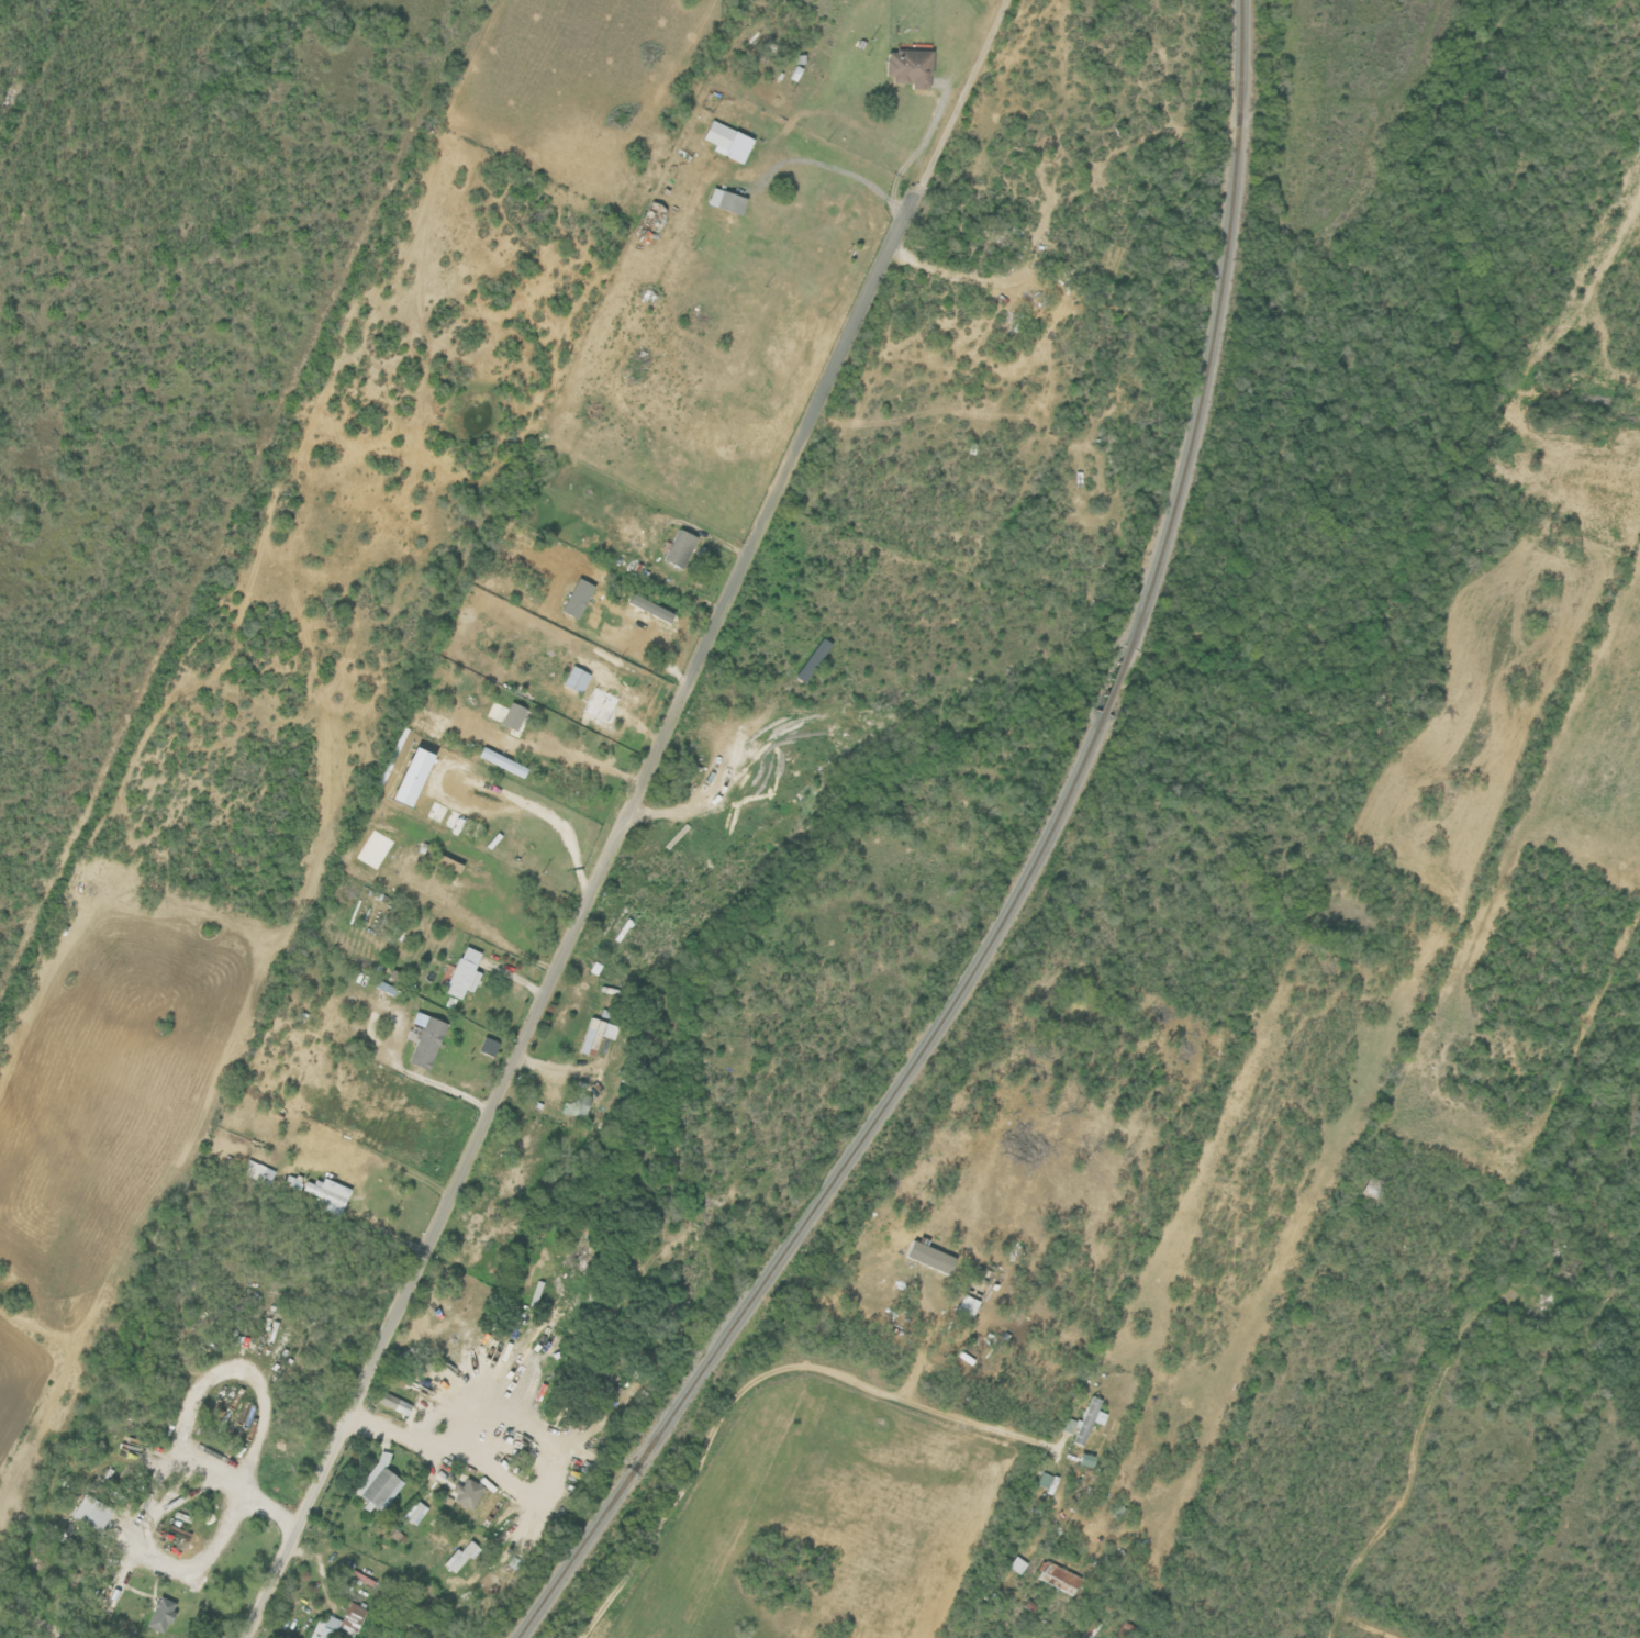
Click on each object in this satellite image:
building: (906, 66)
building: (726, 141)
road: (851, 170)
building: (725, 201)
building: (648, 222)
railway: (1214, 331)
road: (654, 539)
building: (678, 548)
building: (576, 598)
building: (574, 679)
railway: (1114, 684)
building: (512, 716)
building: (501, 762)
building: (409, 777)
road: (624, 817)
building: (447, 863)
building: (461, 973)
building: (594, 1035)
building: (423, 1039)
building: (487, 1047)
building: (576, 1103)
railway: (828, 1189)
building: (327, 1194)
building: (926, 1259)
building: (966, 1305)
road: (824, 1373)
road: (186, 1402)
building: (392, 1403)
building: (1083, 1422)
road: (509, 1440)
building: (1045, 1482)
building: (466, 1494)
building: (414, 1512)
building: (90, 1513)
building: (460, 1557)
road: (161, 1564)
building: (1016, 1565)
building: (1057, 1578)
building: (159, 1615)
road: (35, 1622)
building: (339, 1623)

